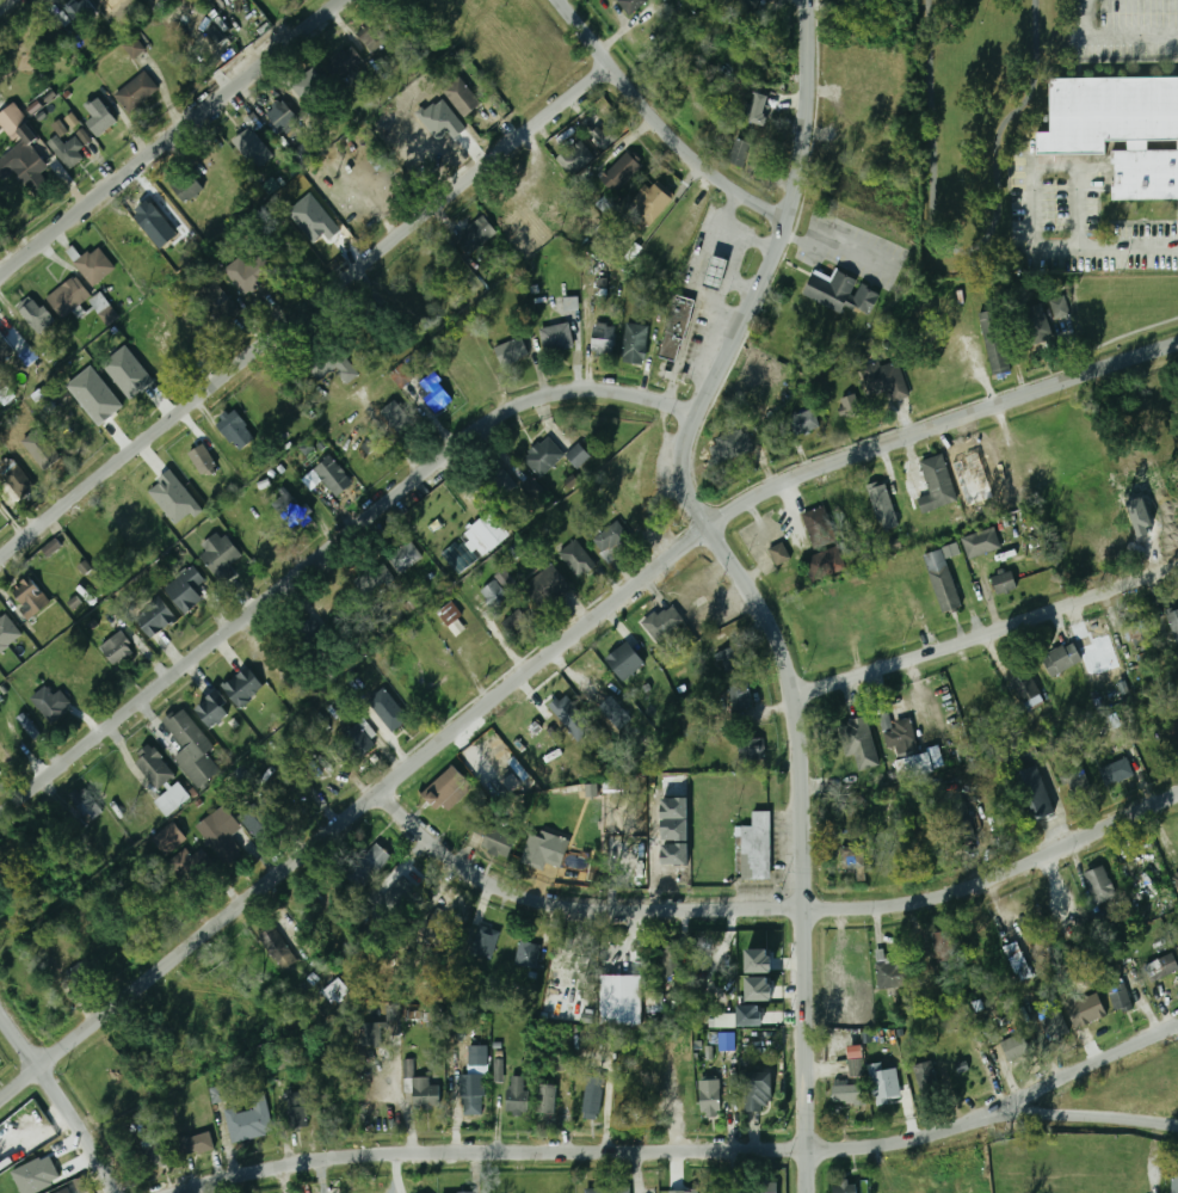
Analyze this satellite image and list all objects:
road: (4, 2)
building: (633, 4)
building: (750, 6)
building: (79, 11)
building: (370, 36)
road: (1109, 42)
building: (135, 47)
building: (344, 62)
building: (136, 91)
building: (462, 97)
building: (754, 115)
building: (100, 117)
building: (283, 117)
building: (72, 121)
road: (661, 122)
building: (1120, 131)
building: (604, 136)
road: (173, 139)
building: (254, 149)
building: (67, 150)
building: (21, 152)
building: (741, 153)
building: (301, 154)
building: (575, 158)
road: (1032, 166)
building: (619, 172)
building: (186, 187)
building: (652, 204)
building: (152, 221)
building: (474, 235)
road: (833, 242)
road: (1129, 242)
building: (634, 252)
building: (93, 269)
road: (759, 272)
building: (248, 273)
building: (716, 273)
building: (831, 291)
building: (67, 297)
building: (217, 303)
building: (572, 303)
building: (104, 308)
building: (1060, 308)
road: (307, 313)
building: (35, 316)
building: (1036, 325)
building: (676, 330)
building: (556, 339)
building: (603, 339)
building: (994, 342)
building: (635, 343)
building: (5, 348)
building: (512, 351)
building: (29, 356)
building: (334, 369)
building: (128, 371)
building: (925, 376)
building: (886, 381)
building: (433, 392)
building: (851, 406)
building: (101, 416)
building: (399, 420)
building: (803, 423)
road: (936, 425)
building: (235, 430)
building: (369, 445)
building: (42, 449)
building: (724, 449)
building: (578, 455)
building: (543, 456)
building: (202, 461)
building: (615, 471)
building: (16, 476)
building: (333, 476)
building: (936, 485)
building: (531, 490)
building: (500, 496)
building: (174, 498)
building: (883, 506)
building: (291, 509)
road: (738, 527)
building: (819, 528)
building: (486, 534)
building: (607, 540)
building: (981, 543)
building: (53, 547)
road: (328, 553)
building: (779, 553)
building: (220, 555)
building: (403, 559)
building: (574, 561)
building: (819, 566)
building: (374, 579)
building: (943, 582)
building: (1005, 583)
building: (547, 586)
building: (185, 589)
building: (494, 594)
building: (30, 596)
building: (449, 613)
building: (155, 617)
building: (704, 619)
building: (517, 621)
building: (1173, 621)
building: (664, 623)
building: (8, 633)
building: (309, 633)
road: (985, 635)
building: (1142, 642)
building: (117, 648)
building: (1061, 659)
building: (730, 660)
building: (625, 662)
building: (242, 687)
building: (1026, 691)
building: (740, 696)
building: (49, 702)
building: (340, 706)
building: (214, 709)
building: (387, 709)
building: (559, 711)
building: (616, 712)
building: (29, 726)
building: (1174, 727)
building: (357, 740)
building: (858, 742)
building: (191, 748)
building: (1026, 749)
building: (751, 750)
building: (906, 750)
building: (153, 767)
building: (1114, 770)
building: (1077, 781)
building: (445, 786)
building: (1032, 795)
building: (171, 799)
building: (88, 807)
road: (353, 816)
building: (960, 823)
building: (254, 825)
building: (220, 832)
building: (168, 838)
building: (918, 840)
building: (499, 843)
building: (757, 847)
road: (798, 850)
building: (537, 851)
building: (852, 859)
building: (366, 865)
building: (190, 866)
building: (1100, 885)
building: (391, 897)
road: (771, 910)
building: (439, 920)
building: (485, 942)
building: (944, 946)
building: (277, 948)
building: (528, 954)
building: (672, 960)
building: (759, 960)
building: (1019, 961)
building: (1161, 968)
building: (888, 971)
building: (80, 976)
building: (759, 989)
building: (337, 991)
building: (1121, 998)
building: (622, 1000)
building: (655, 1003)
building: (1086, 1009)
building: (394, 1013)
building: (565, 1014)
building: (751, 1015)
building: (436, 1020)
building: (726, 1020)
building: (1051, 1020)
building: (371, 1033)
building: (728, 1041)
building: (1014, 1047)
building: (562, 1062)
building: (857, 1068)
road: (1084, 1068)
building: (499, 1070)
building: (926, 1075)
building: (474, 1084)
building: (884, 1084)
building: (758, 1089)
building: (425, 1094)
building: (849, 1094)
building: (218, 1095)
building: (518, 1095)
building: (710, 1096)
road: (62, 1099)
building: (547, 1099)
building: (592, 1099)
building: (297, 1111)
building: (249, 1120)
building: (196, 1144)
road: (684, 1150)
building: (154, 1155)
building: (1173, 1185)
building: (764, 1187)
building: (70, 1188)
building: (846, 1188)
building: (605, 1191)
building: (684, 1191)
building: (715, 1191)

